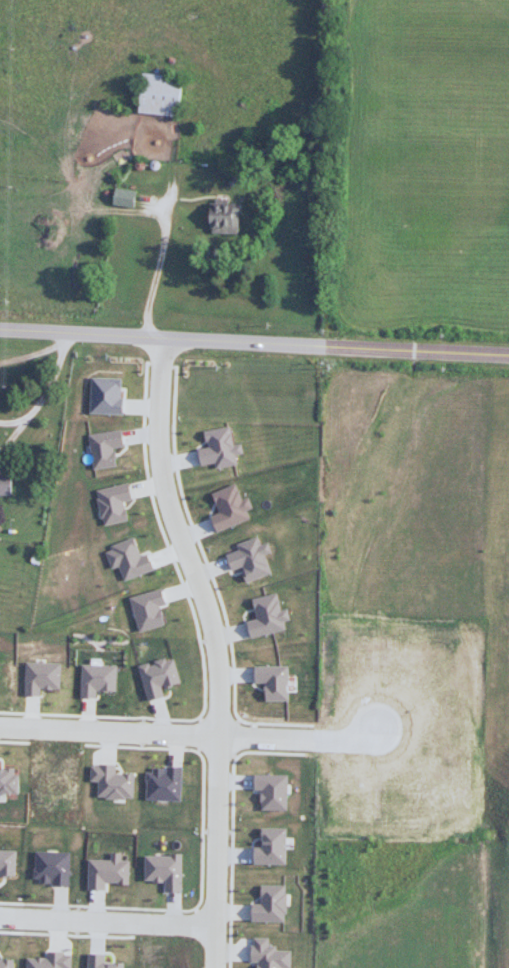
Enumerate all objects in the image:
building: (159, 94)
building: (123, 195)
building: (223, 215)
road: (153, 266)
road: (254, 338)
road: (160, 364)
road: (51, 379)
building: (104, 394)
road: (11, 421)
road: (12, 436)
building: (107, 446)
building: (217, 447)
building: (3, 484)
building: (112, 504)
building: (224, 508)
building: (126, 558)
building: (246, 560)
road: (212, 578)
building: (148, 609)
building: (262, 615)
road: (199, 635)
road: (214, 646)
building: (40, 676)
building: (157, 676)
building: (99, 678)
building: (270, 682)
road: (219, 718)
road: (187, 731)
road: (197, 734)
road: (240, 736)
road: (218, 752)
building: (7, 780)
building: (111, 782)
building: (162, 784)
building: (268, 791)
road: (231, 821)
road: (202, 829)
building: (269, 845)
building: (7, 860)
building: (51, 867)
building: (164, 870)
building: (107, 872)
building: (267, 901)
road: (108, 923)
road: (68, 934)
building: (268, 953)
building: (5, 960)
building: (104, 961)
building: (48, 962)

